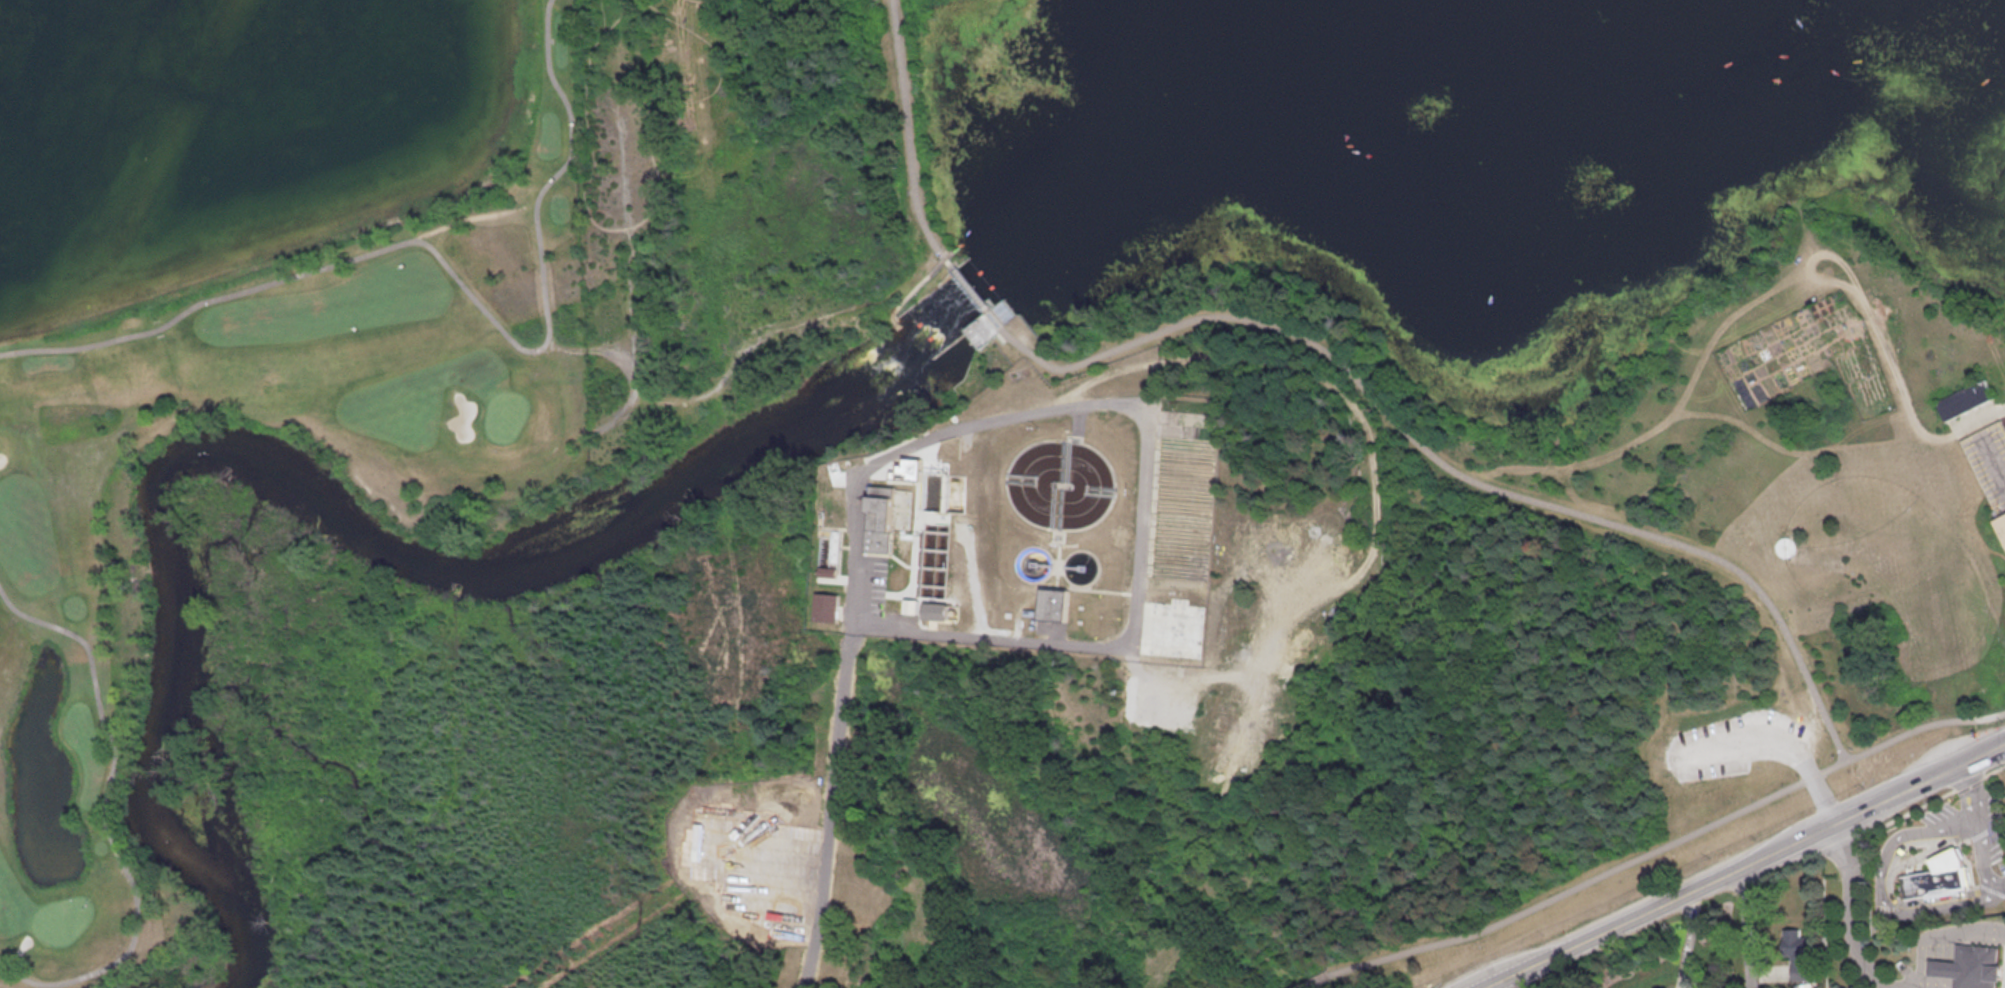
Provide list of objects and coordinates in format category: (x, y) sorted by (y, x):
river: (1469, 71)
road: (910, 138)
road: (650, 210)
road: (475, 215)
road: (625, 238)
road: (1812, 253)
road: (453, 271)
dam: (977, 284)
road: (972, 288)
road: (902, 298)
road: (1002, 311)
road: (787, 325)
road: (983, 325)
building: (982, 330)
road: (587, 346)
park: (248, 357)
building: (1965, 398)
road: (1908, 410)
road: (1664, 422)
road: (1146, 440)
road: (1798, 450)
road: (1993, 457)
road: (1441, 463)
building: (910, 468)
river: (323, 500)
wastewater plant: (1029, 514)
building: (879, 517)
building: (2000, 523)
building: (827, 570)
park: (1685, 599)
building: (1051, 603)
building: (826, 606)
building: (934, 609)
park: (781, 637)
road: (1651, 639)
road: (1773, 740)
parking lot: (1735, 744)
road: (2003, 746)
road: (1923, 803)
road: (832, 806)
road: (101, 816)
road: (1977, 834)
road: (1667, 843)
road: (1740, 866)
building: (1938, 875)
road: (1880, 885)
road: (1847, 911)
road: (1746, 927)
road: (1960, 933)
road: (1688, 939)
building: (1799, 952)
road: (1938, 966)
building: (1973, 966)
road: (1312, 980)
road: (1937, 981)

